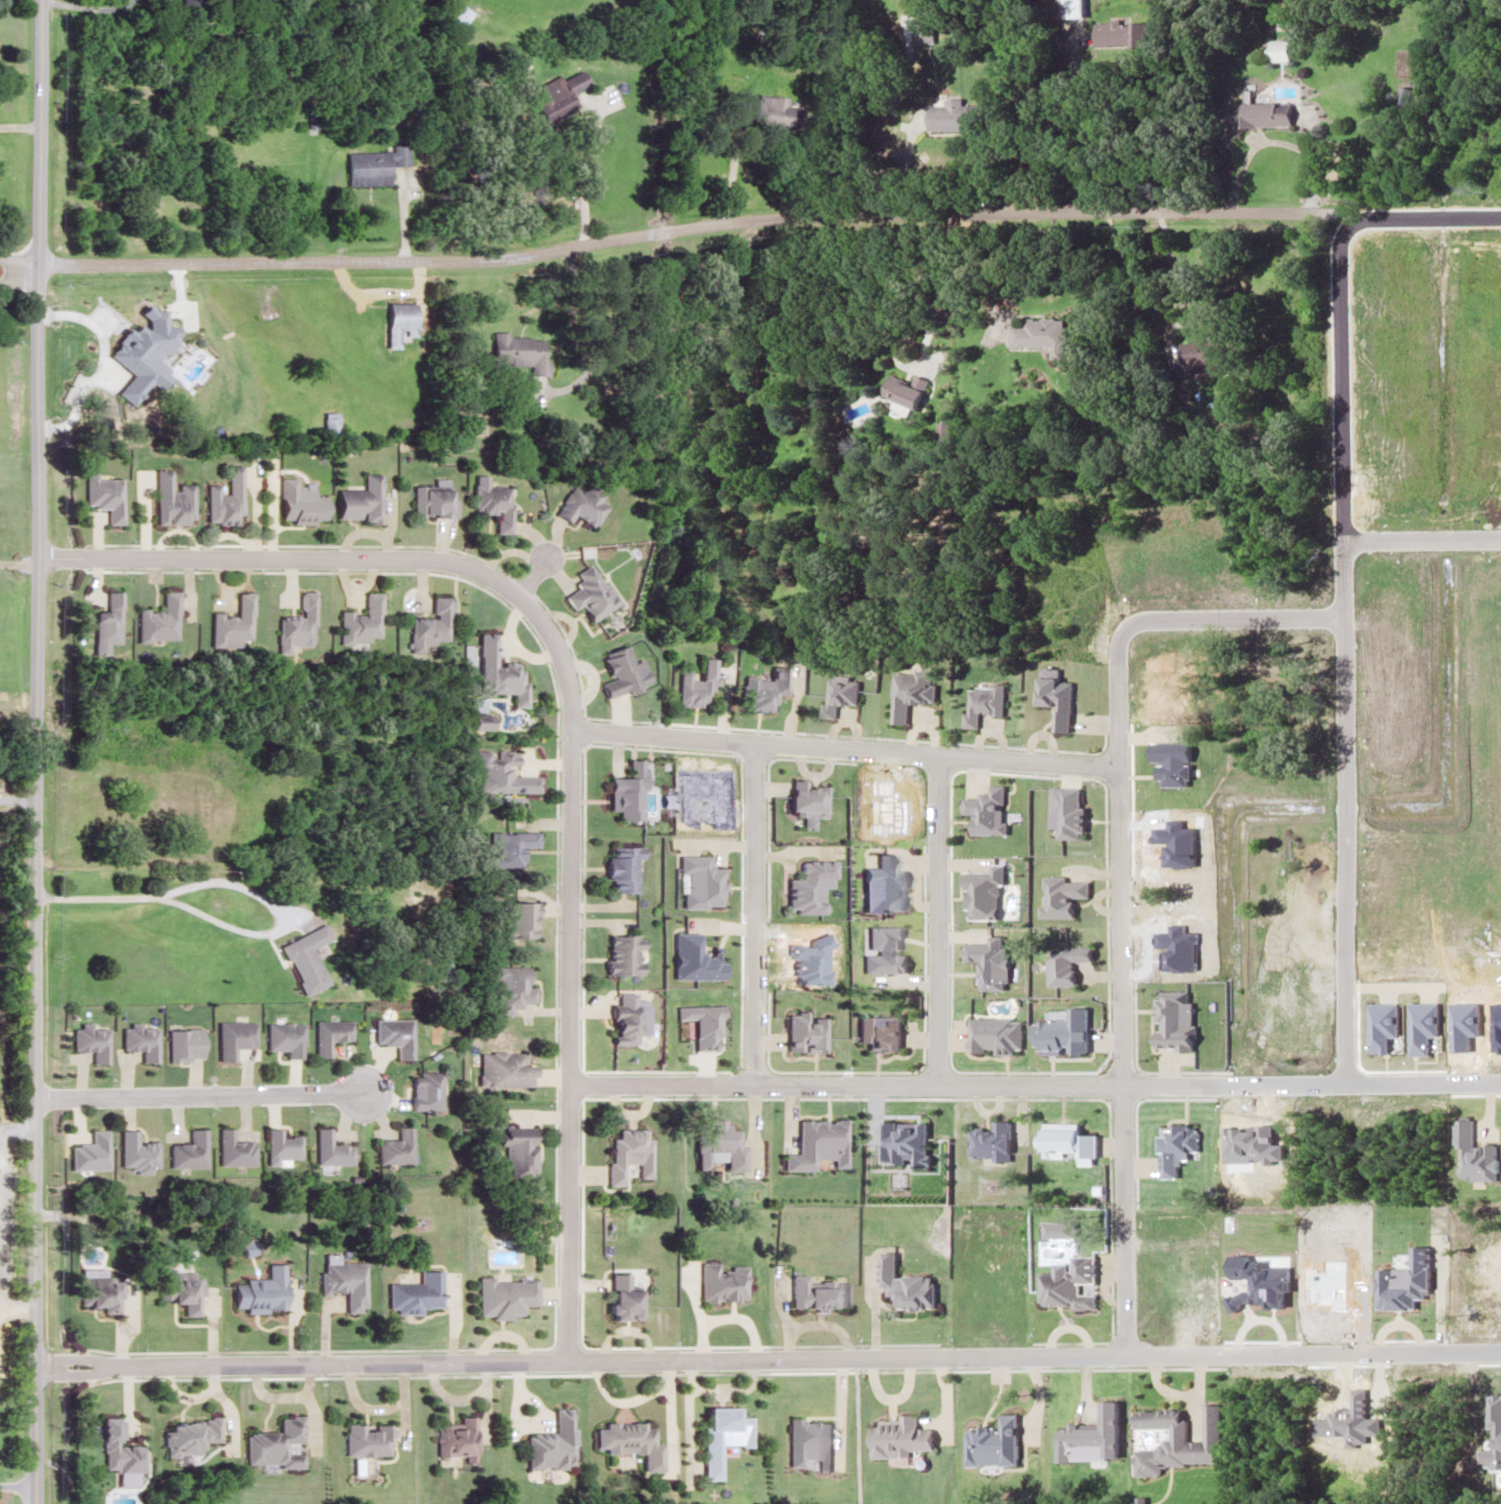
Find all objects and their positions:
building: (187, 7)
building: (1069, 8)
building: (459, 15)
building: (1276, 49)
building: (1403, 96)
building: (554, 98)
building: (766, 109)
building: (1262, 113)
building: (951, 115)
road: (19, 125)
building: (371, 164)
road: (690, 227)
road: (18, 265)
building: (1036, 333)
building: (517, 351)
building: (1196, 352)
building: (176, 373)
building: (115, 374)
building: (904, 388)
building: (104, 495)
building: (222, 497)
building: (169, 498)
building: (355, 499)
building: (425, 500)
building: (295, 502)
building: (488, 502)
building: (577, 503)
building: (586, 593)
building: (104, 619)
building: (157, 619)
building: (358, 620)
building: (231, 623)
building: (295, 623)
building: (427, 624)
building: (495, 671)
building: (619, 672)
building: (694, 683)
road: (570, 723)
road: (670, 734)
road: (34, 752)
building: (499, 773)
building: (621, 795)
building: (197, 805)
building: (506, 846)
building: (617, 867)
road: (164, 892)
building: (516, 919)
building: (618, 954)
building: (298, 962)
building: (509, 990)
building: (617, 1023)
building: (328, 1034)
building: (391, 1034)
building: (231, 1037)
building: (283, 1037)
building: (501, 1068)
road: (644, 1083)
building: (421, 1090)
road: (200, 1094)
building: (278, 1144)
building: (393, 1147)
building: (230, 1148)
building: (327, 1149)
building: (185, 1150)
building: (87, 1151)
building: (514, 1151)
building: (624, 1153)
building: (717, 1282)
building: (180, 1291)
building: (259, 1291)
building: (414, 1292)
building: (502, 1296)
building: (618, 1296)
road: (564, 1359)
building: (717, 1436)
building: (897, 1436)
building: (364, 1438)
building: (454, 1438)
building: (627, 1441)
building: (549, 1442)
building: (807, 1442)
building: (114, 1449)

